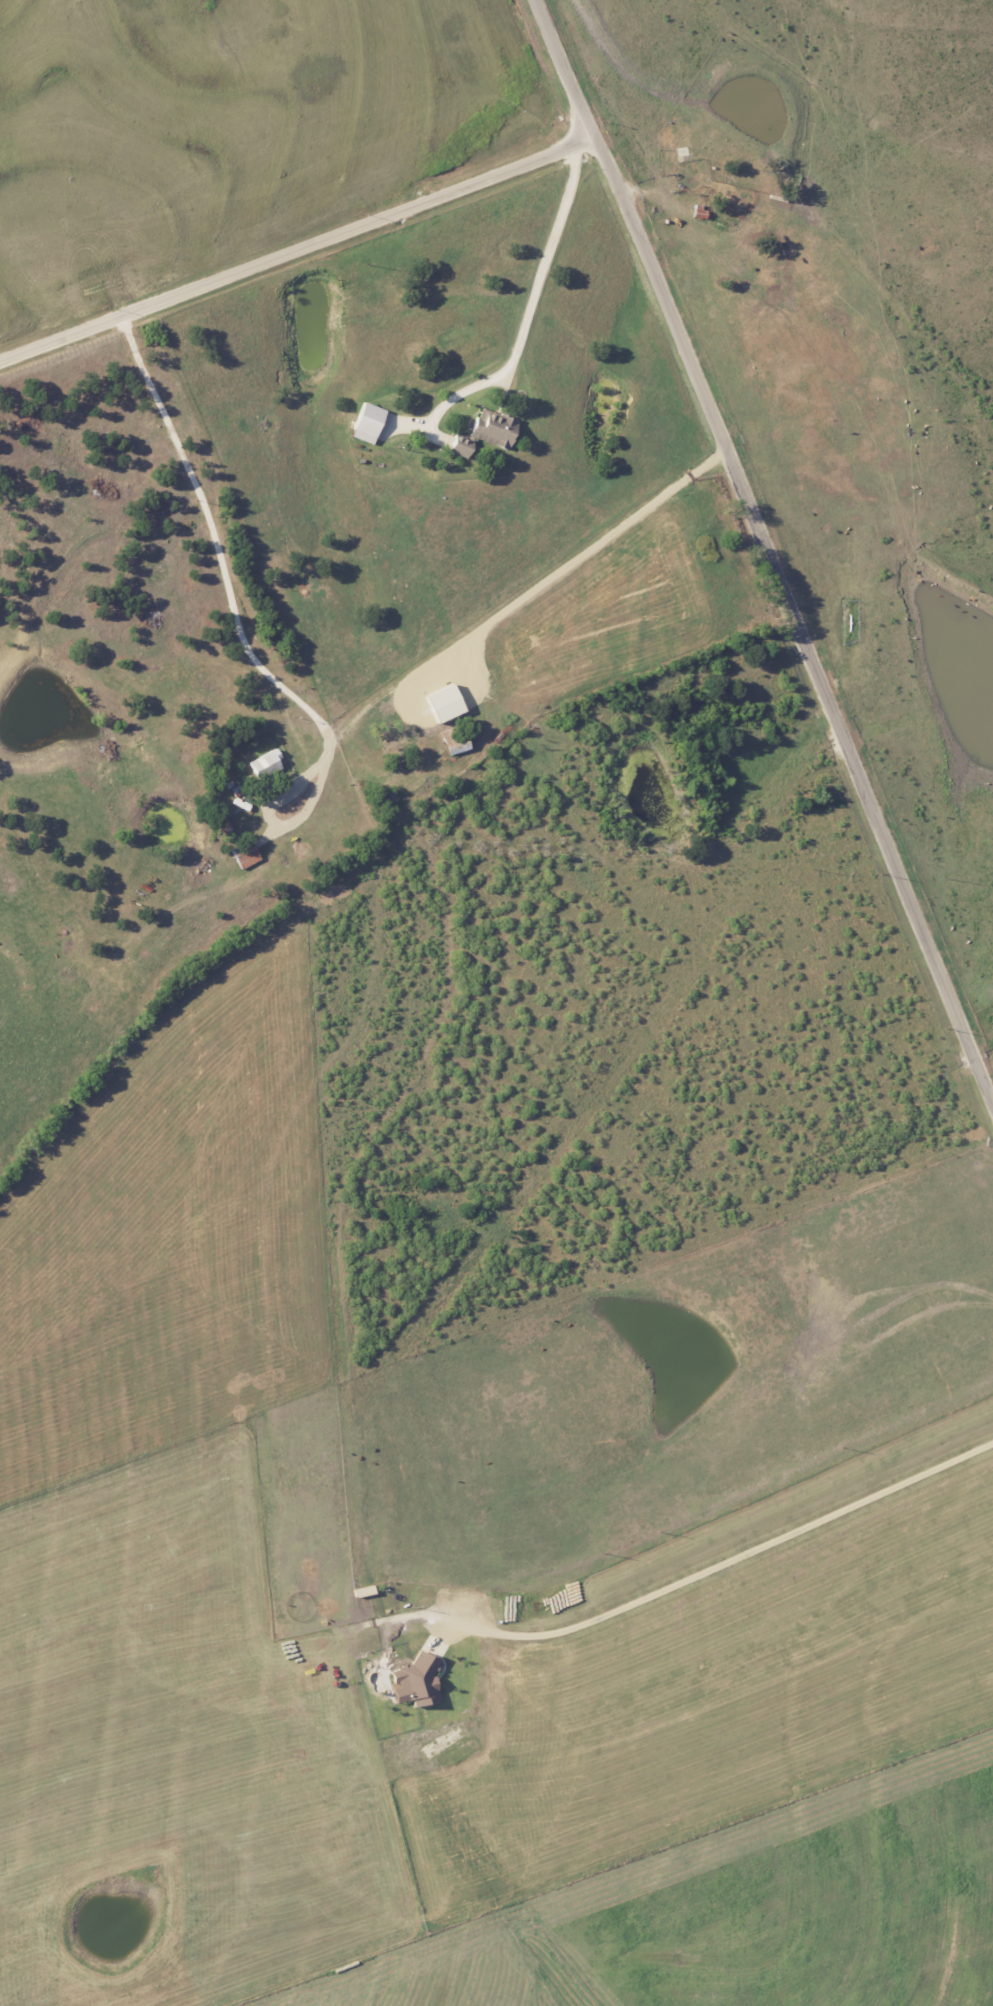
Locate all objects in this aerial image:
road: (296, 250)
road: (533, 304)
building: (366, 423)
building: (484, 431)
road: (767, 550)
road: (471, 610)
building: (265, 764)
building: (221, 827)
building: (245, 856)
road: (726, 1559)
building: (416, 1679)

